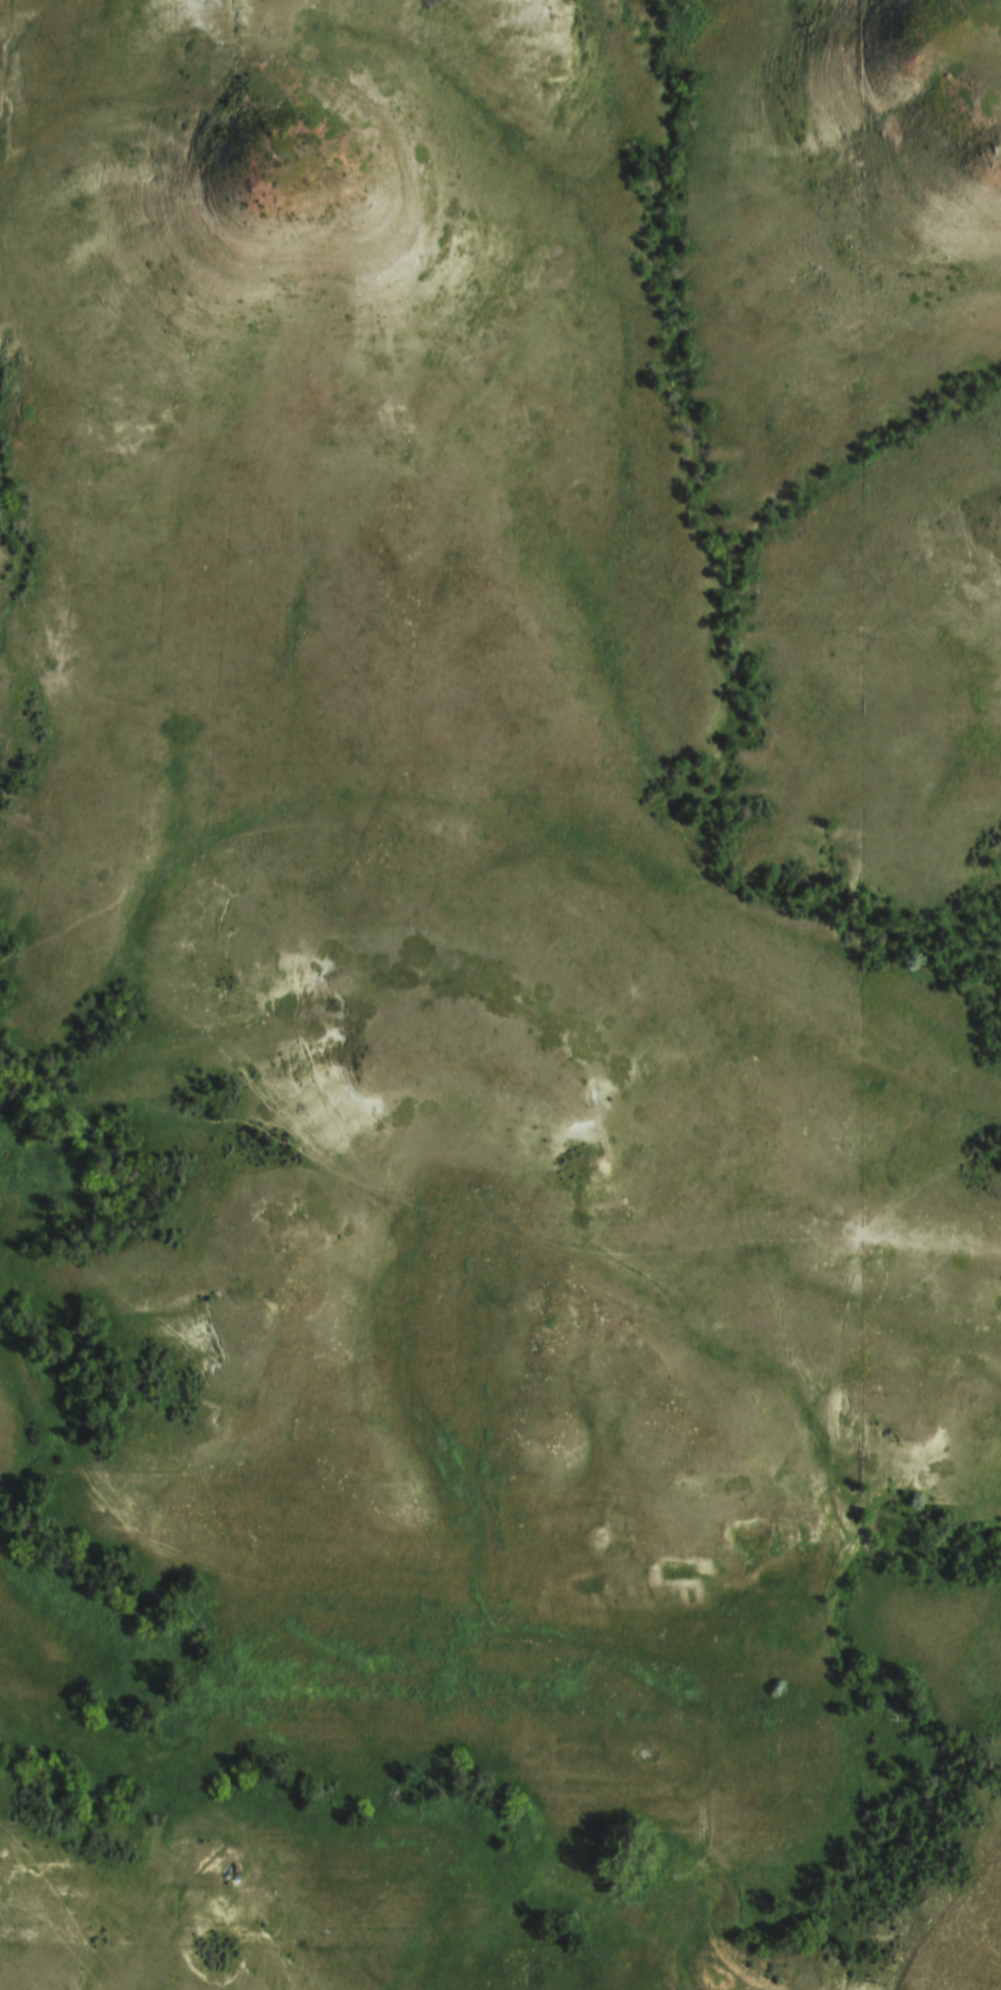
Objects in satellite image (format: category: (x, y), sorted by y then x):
road: (710, 1929)

